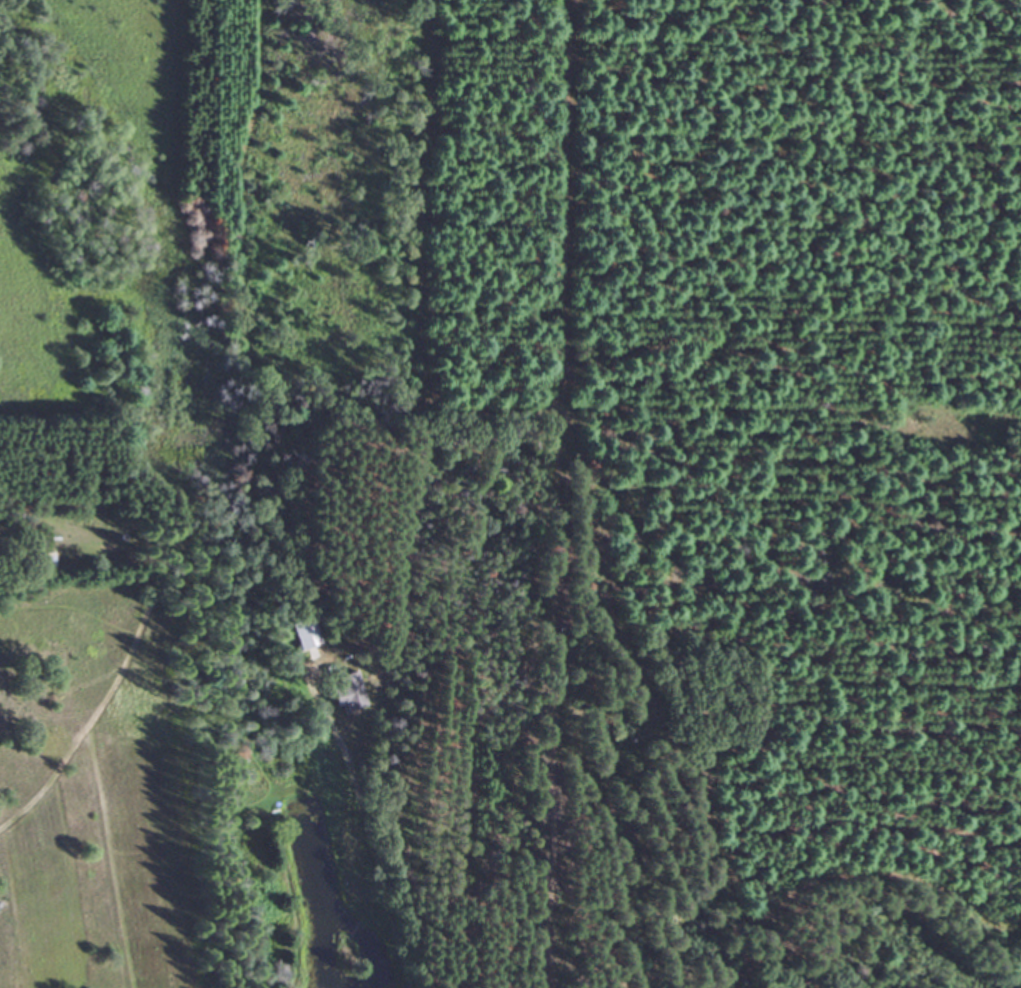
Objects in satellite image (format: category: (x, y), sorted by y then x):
building: (303, 632)
building: (343, 691)
road: (559, 841)

